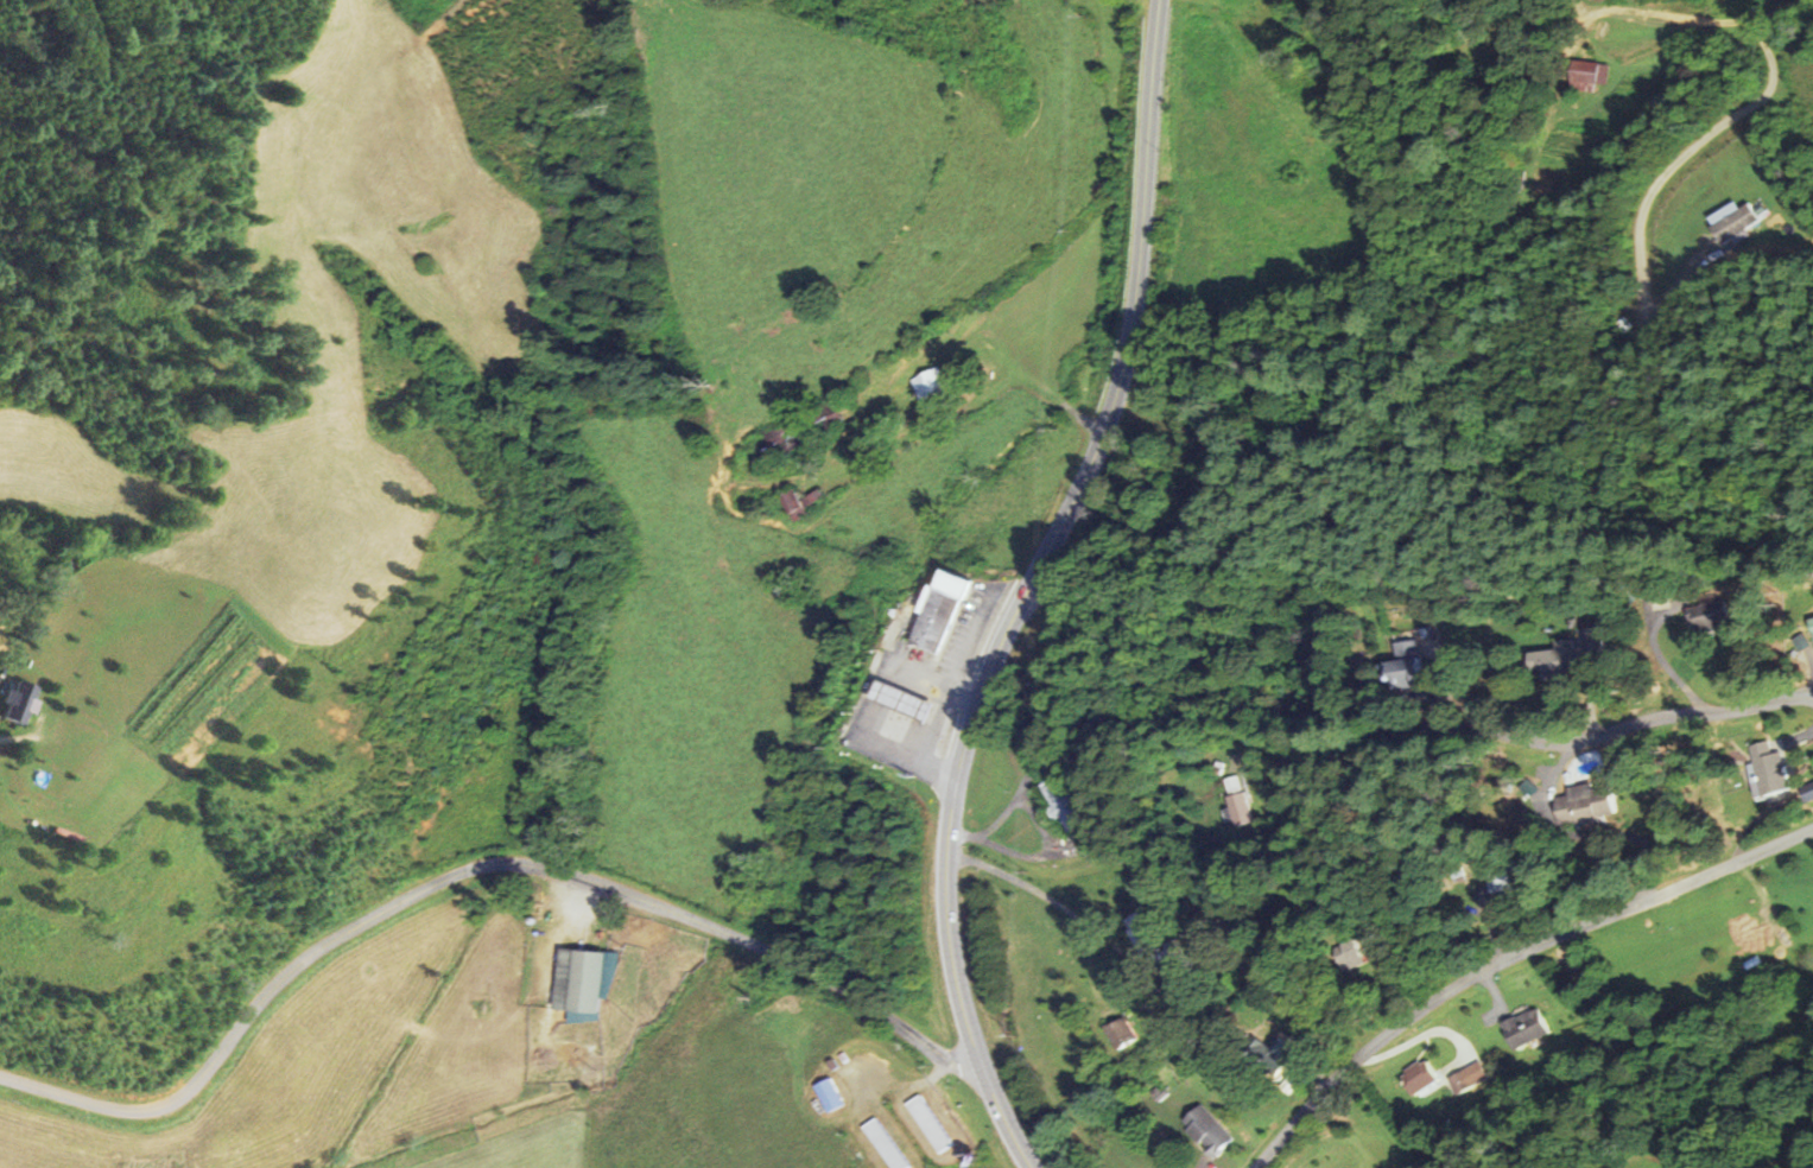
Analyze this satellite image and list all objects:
road: (1682, 17)
building: (1590, 72)
building: (1733, 226)
road: (1136, 292)
building: (933, 383)
building: (785, 438)
building: (804, 502)
building: (937, 610)
building: (1706, 615)
building: (1811, 626)
building: (1564, 655)
building: (1402, 664)
building: (21, 700)
building: (882, 710)
road: (1553, 726)
building: (1766, 769)
building: (1232, 783)
building: (1807, 792)
building: (1583, 804)
building: (1238, 808)
road: (471, 863)
road: (946, 868)
building: (1498, 884)
building: (1345, 953)
road: (1508, 959)
building: (590, 979)
building: (592, 1016)
building: (1523, 1028)
building: (1120, 1031)
building: (1418, 1077)
building: (1466, 1077)
building: (828, 1094)
building: (927, 1123)
building: (1205, 1130)
building: (885, 1144)

